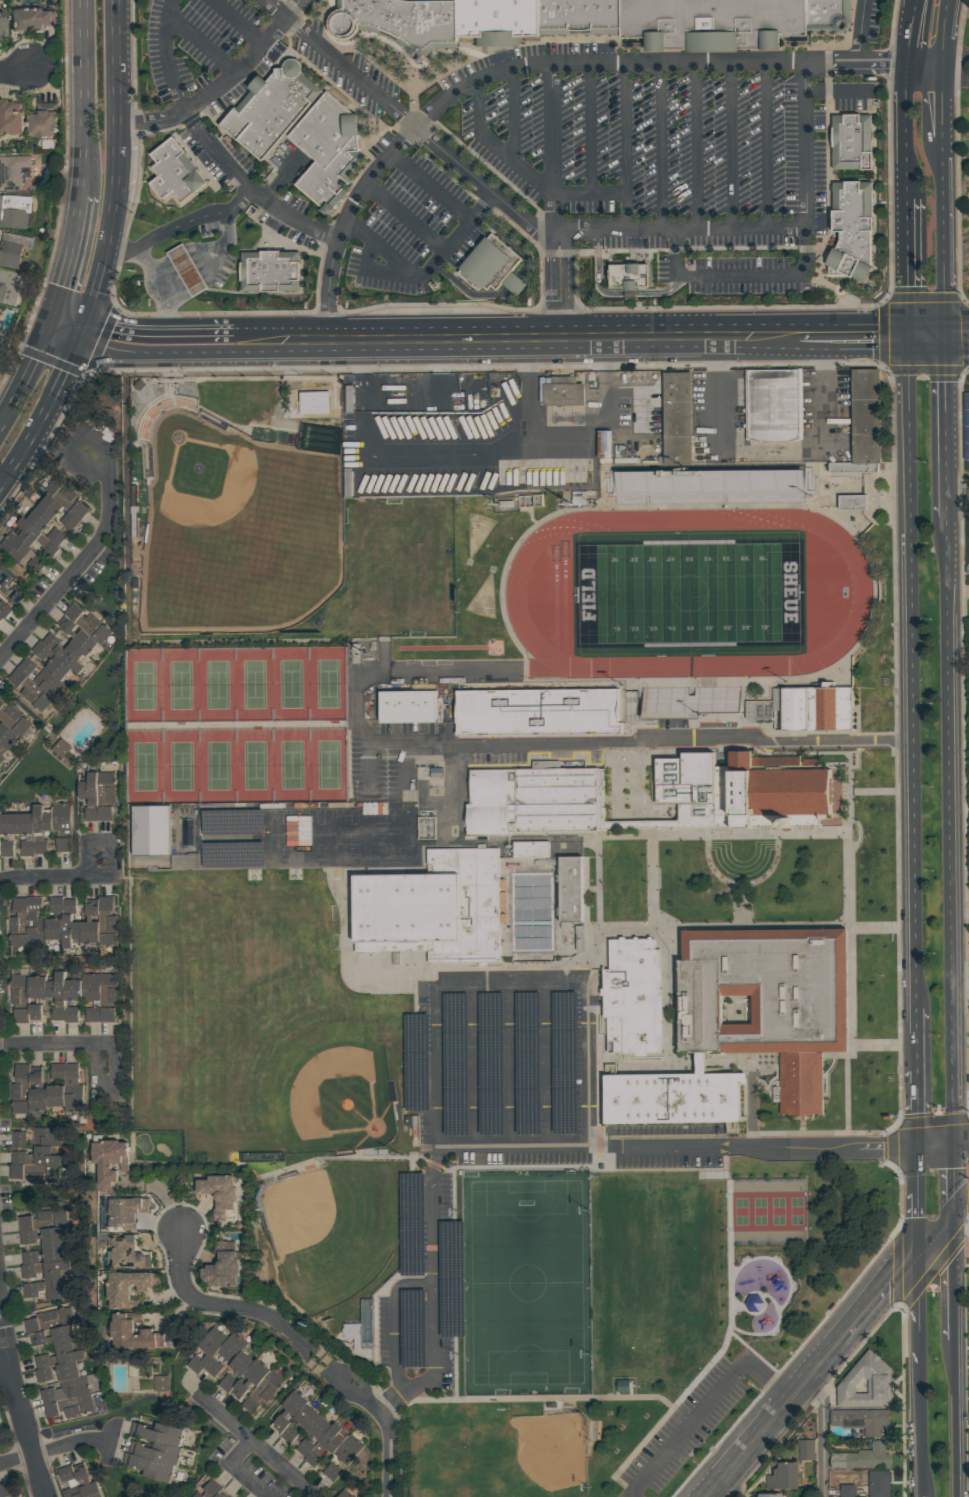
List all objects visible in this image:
building: (733, 17)
building: (500, 18)
building: (583, 18)
building: (30, 19)
building: (402, 20)
building: (2, 21)
road: (239, 22)
road: (909, 29)
road: (864, 30)
road: (947, 30)
road: (204, 45)
road: (956, 55)
road: (925, 61)
road: (531, 64)
road: (14, 70)
road: (954, 75)
road: (225, 85)
road: (837, 91)
road: (82, 97)
road: (943, 101)
building: (274, 109)
road: (517, 117)
building: (10, 118)
building: (43, 125)
road: (903, 126)
road: (594, 127)
building: (856, 142)
road: (216, 145)
road: (734, 145)
road: (770, 145)
road: (629, 146)
road: (664, 146)
road: (699, 146)
building: (332, 151)
road: (118, 168)
building: (13, 171)
building: (176, 172)
road: (526, 172)
road: (283, 180)
road: (434, 186)
road: (505, 201)
road: (560, 202)
building: (15, 212)
road: (409, 217)
road: (185, 227)
building: (856, 230)
road: (946, 240)
road: (805, 255)
road: (68, 259)
road: (213, 264)
building: (490, 266)
road: (902, 266)
building: (188, 269)
road: (381, 271)
road: (429, 272)
building: (270, 273)
gas station: (270, 273)
road: (597, 273)
building: (633, 277)
building: (9, 287)
road: (662, 293)
road: (165, 294)
road: (631, 294)
traffic signals: (51, 324)
road: (69, 328)
road: (958, 332)
traffic signals: (87, 333)
road: (850, 339)
traffic signals: (902, 339)
road: (925, 339)
traffic signals: (948, 339)
road: (958, 342)
road: (517, 343)
road: (160, 346)
road: (37, 353)
road: (71, 367)
road: (364, 371)
road: (531, 388)
building: (564, 391)
road: (430, 399)
road: (11, 400)
building: (774, 403)
road: (365, 405)
building: (866, 415)
road: (603, 417)
building: (678, 417)
building: (966, 423)
road: (948, 427)
road: (27, 442)
building: (606, 446)
road: (771, 448)
road: (434, 458)
building: (855, 466)
building: (710, 486)
building: (58, 489)
road: (959, 494)
building: (579, 497)
building: (530, 500)
building: (853, 501)
building: (48, 507)
building: (73, 516)
building: (38, 520)
park: (238, 530)
building: (55, 537)
building: (34, 538)
building: (14, 547)
road: (85, 559)
building: (36, 563)
park: (399, 566)
building: (4, 579)
park: (688, 592)
track: (515, 594)
building: (15, 595)
building: (4, 609)
building: (0, 618)
building: (86, 623)
building: (78, 639)
building: (39, 651)
building: (63, 653)
building: (25, 666)
road: (907, 673)
building: (63, 674)
building: (48, 683)
park: (235, 685)
building: (29, 690)
building: (408, 706)
building: (818, 708)
building: (760, 710)
building: (537, 711)
road: (359, 713)
building: (17, 721)
building: (6, 734)
road: (659, 742)
building: (1, 746)
building: (60, 749)
parking lot: (497, 749)
building: (1, 758)
parking lot: (389, 759)
road: (367, 760)
park: (236, 765)
road: (408, 765)
building: (105, 787)
building: (748, 792)
building: (89, 796)
building: (533, 800)
building: (104, 814)
building: (233, 822)
building: (8, 823)
building: (62, 825)
building: (41, 827)
building: (427, 827)
building: (151, 829)
road: (951, 831)
building: (188, 832)
building: (25, 833)
park: (334, 838)
road: (110, 845)
building: (6, 848)
building: (531, 848)
building: (234, 853)
road: (43, 878)
building: (571, 888)
road: (960, 907)
building: (434, 908)
building: (106, 915)
building: (54, 919)
building: (18, 922)
building: (35, 923)
building: (69, 923)
building: (89, 924)
building: (580, 938)
building: (19, 987)
building: (36, 987)
building: (90, 987)
building: (107, 988)
building: (72, 989)
building: (56, 995)
building: (634, 995)
park: (232, 999)
building: (769, 999)
building: (35, 1011)
building: (70, 1014)
building: (106, 1014)
building: (21, 1015)
building: (92, 1015)
road: (436, 1020)
road: (915, 1039)
road: (48, 1045)
building: (418, 1061)
building: (456, 1063)
road: (475, 1063)
building: (492, 1063)
road: (511, 1063)
building: (529, 1063)
road: (549, 1063)
building: (566, 1063)
parking lot: (505, 1065)
road: (115, 1083)
building: (55, 1085)
building: (20, 1089)
building: (71, 1089)
building: (37, 1092)
park: (336, 1095)
building: (673, 1097)
road: (914, 1109)
building: (36, 1137)
parking lot: (669, 1145)
road: (676, 1146)
traffic signals: (913, 1147)
road: (941, 1147)
traffic signals: (953, 1147)
building: (37, 1157)
building: (108, 1162)
building: (37, 1173)
road: (953, 1180)
building: (218, 1192)
road: (913, 1202)
road: (961, 1205)
park: (741, 1210)
park: (760, 1210)
park: (778, 1210)
park: (796, 1210)
building: (123, 1212)
traffic signals: (953, 1214)
building: (42, 1220)
building: (413, 1223)
park: (333, 1229)
road: (933, 1235)
building: (41, 1236)
building: (54, 1253)
building: (127, 1253)
building: (29, 1257)
traffic signals: (914, 1257)
building: (221, 1266)
building: (45, 1269)
road: (954, 1277)
building: (453, 1278)
park: (656, 1278)
park: (526, 1281)
building: (127, 1287)
parking lot: (422, 1287)
building: (48, 1289)
road: (878, 1298)
building: (754, 1302)
road: (211, 1306)
road: (915, 1310)
park: (629, 1317)
building: (414, 1318)
building: (48, 1320)
building: (121, 1330)
building: (53, 1336)
road: (398, 1337)
building: (231, 1347)
road: (309, 1347)
building: (206, 1348)
road: (303, 1354)
building: (58, 1356)
building: (241, 1362)
road: (328, 1363)
building: (212, 1367)
road: (5, 1370)
building: (67, 1370)
road: (323, 1371)
road: (813, 1373)
building: (43, 1374)
building: (249, 1378)
building: (161, 1382)
building: (226, 1382)
building: (865, 1383)
building: (624, 1385)
building: (73, 1387)
building: (262, 1392)
building: (46, 1395)
road: (390, 1398)
road: (17, 1403)
road: (708, 1405)
building: (68, 1406)
building: (288, 1411)
road: (956, 1419)
building: (860, 1420)
building: (298, 1425)
road: (385, 1425)
parking lot: (686, 1427)
road: (918, 1429)
road: (820, 1431)
building: (157, 1432)
building: (311, 1436)
building: (326, 1444)
road: (754, 1444)
road: (257, 1448)
building: (807, 1449)
building: (155, 1451)
road: (42, 1454)
building: (343, 1454)
park: (504, 1456)
building: (861, 1458)
building: (149, 1466)
road: (237, 1471)
building: (785, 1476)
building: (86, 1481)
building: (67, 1482)
building: (877, 1482)
road: (715, 1488)
building: (7, 1489)
building: (207, 1489)
building: (848, 1490)
building: (350, 1491)
building: (217, 1495)
building: (770, 1495)
road: (920, 1496)

